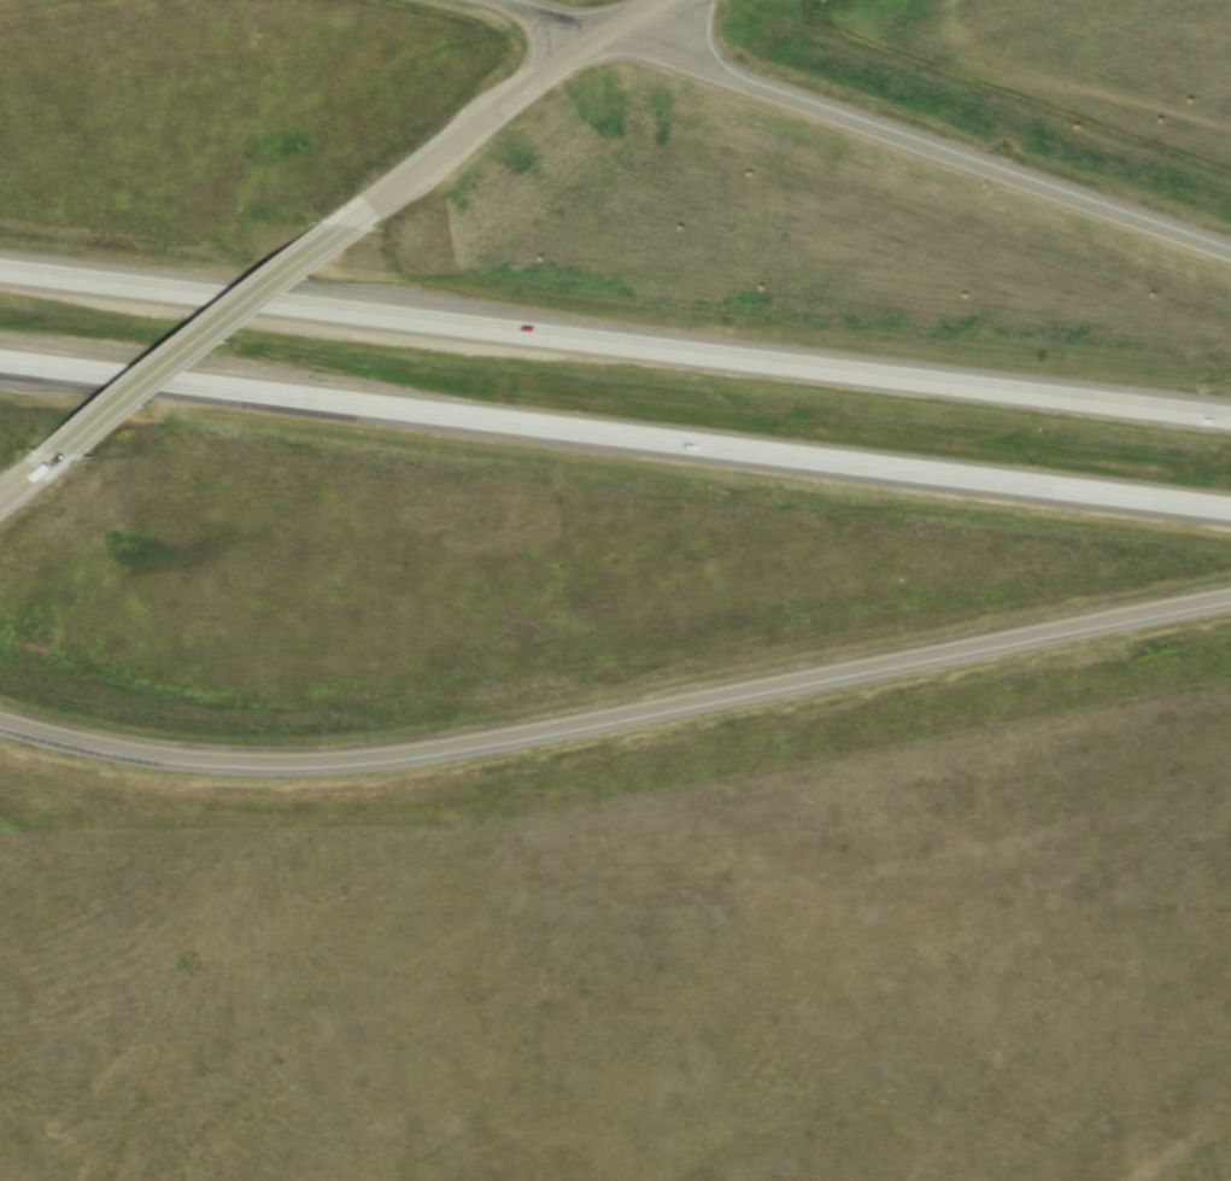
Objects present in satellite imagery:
road: (534, 19)
road: (626, 19)
road: (468, 130)
road: (913, 148)
road: (200, 338)
road: (615, 345)
road: (615, 434)
road: (28, 473)
road: (616, 719)

